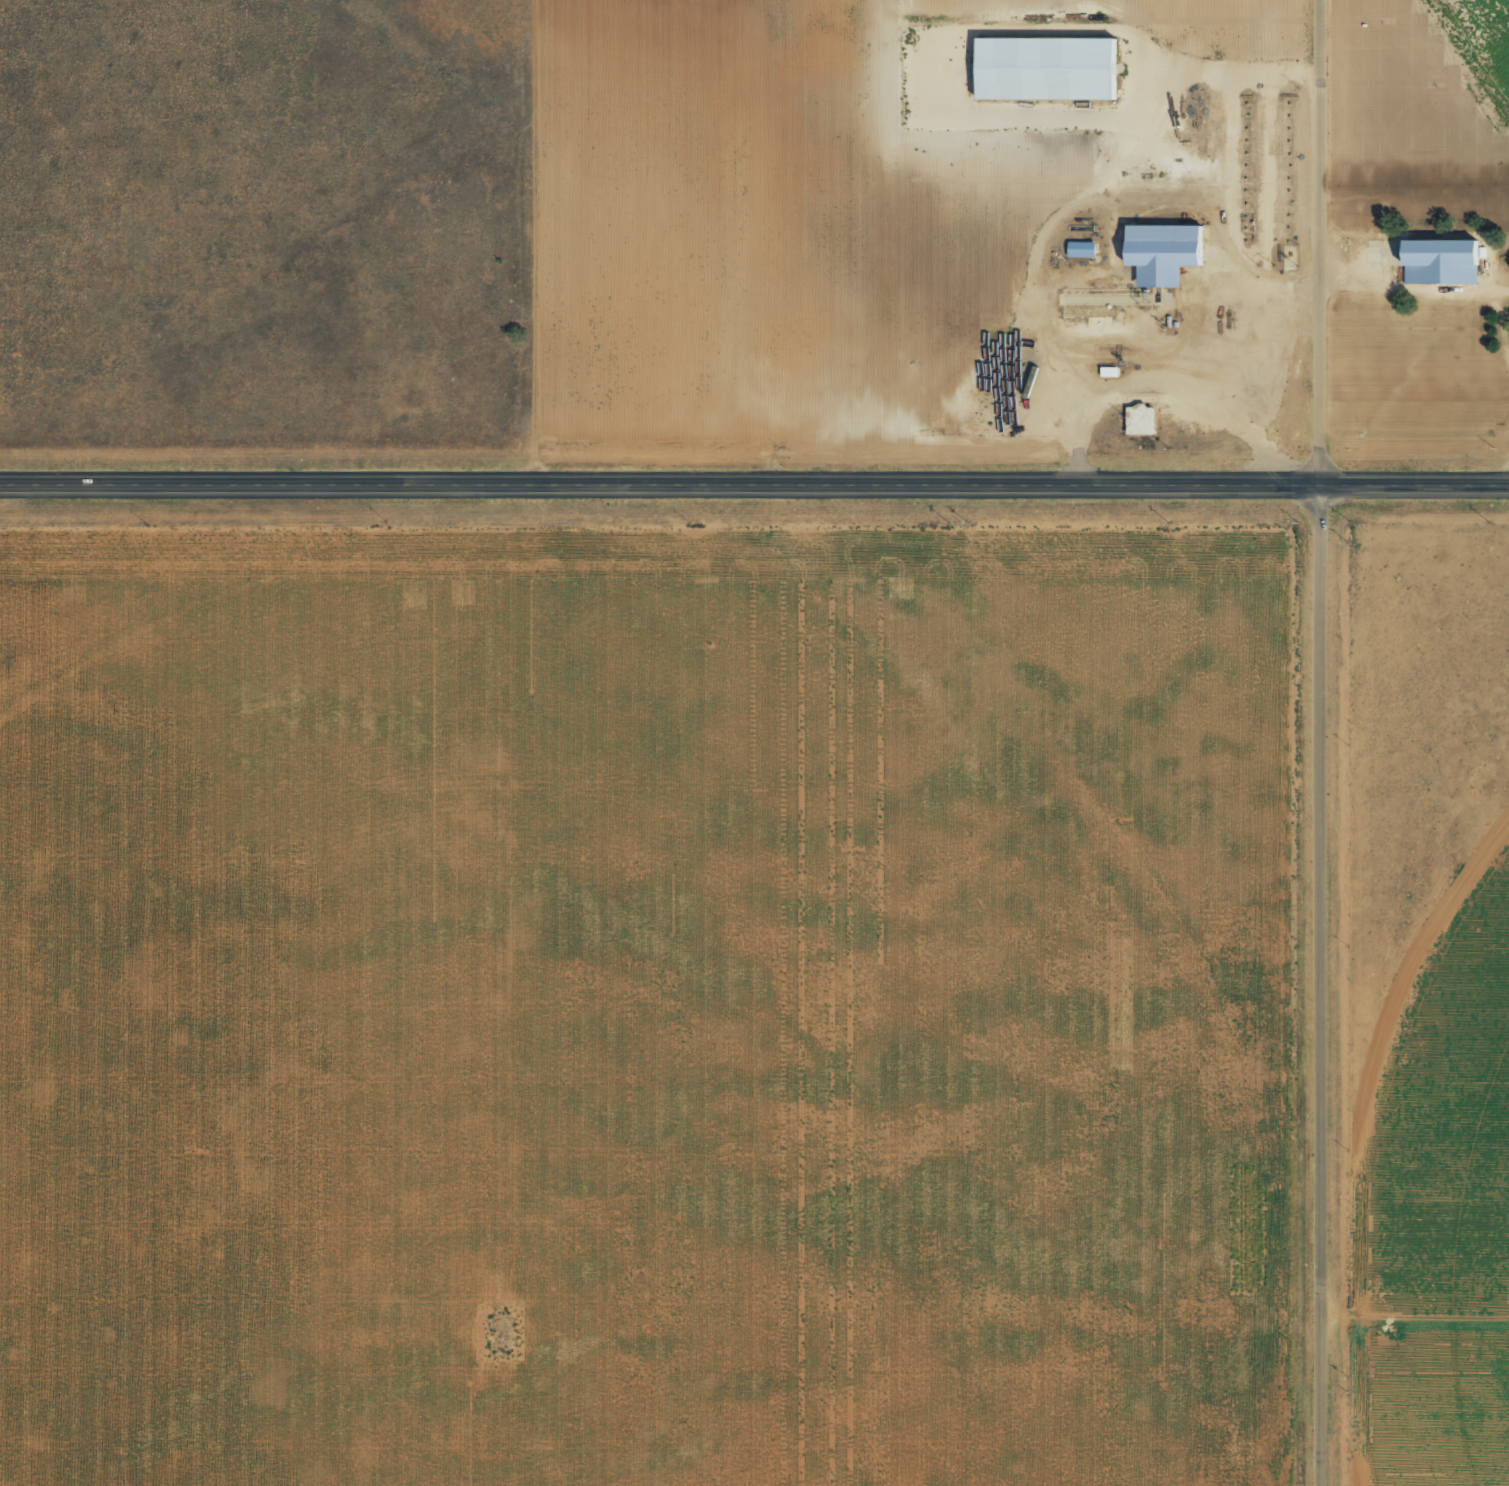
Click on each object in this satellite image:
building: (1048, 69)
building: (1082, 250)
building: (1166, 254)
building: (1443, 264)
road: (1418, 287)
road: (754, 479)
road: (1328, 742)

